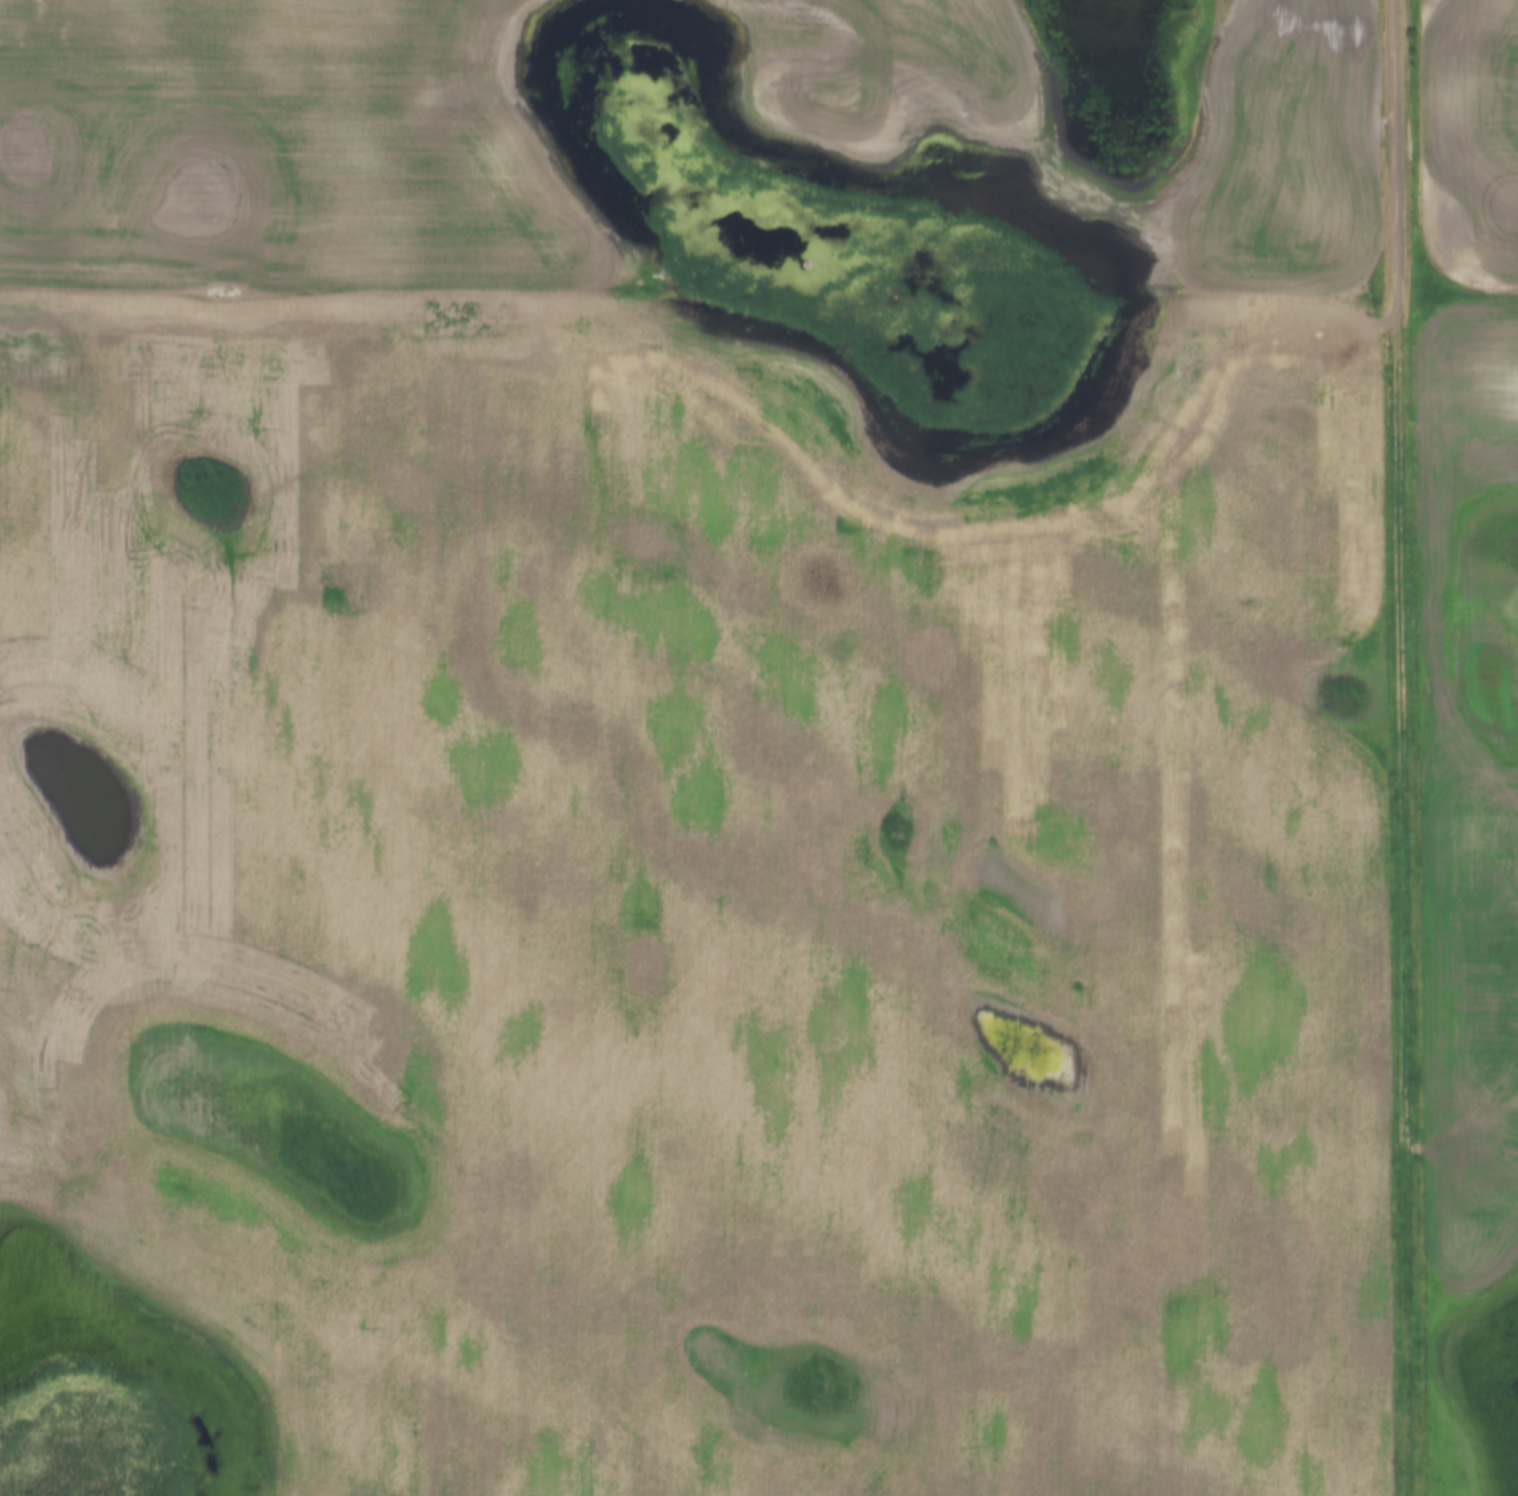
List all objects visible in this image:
road: (1404, 747)

